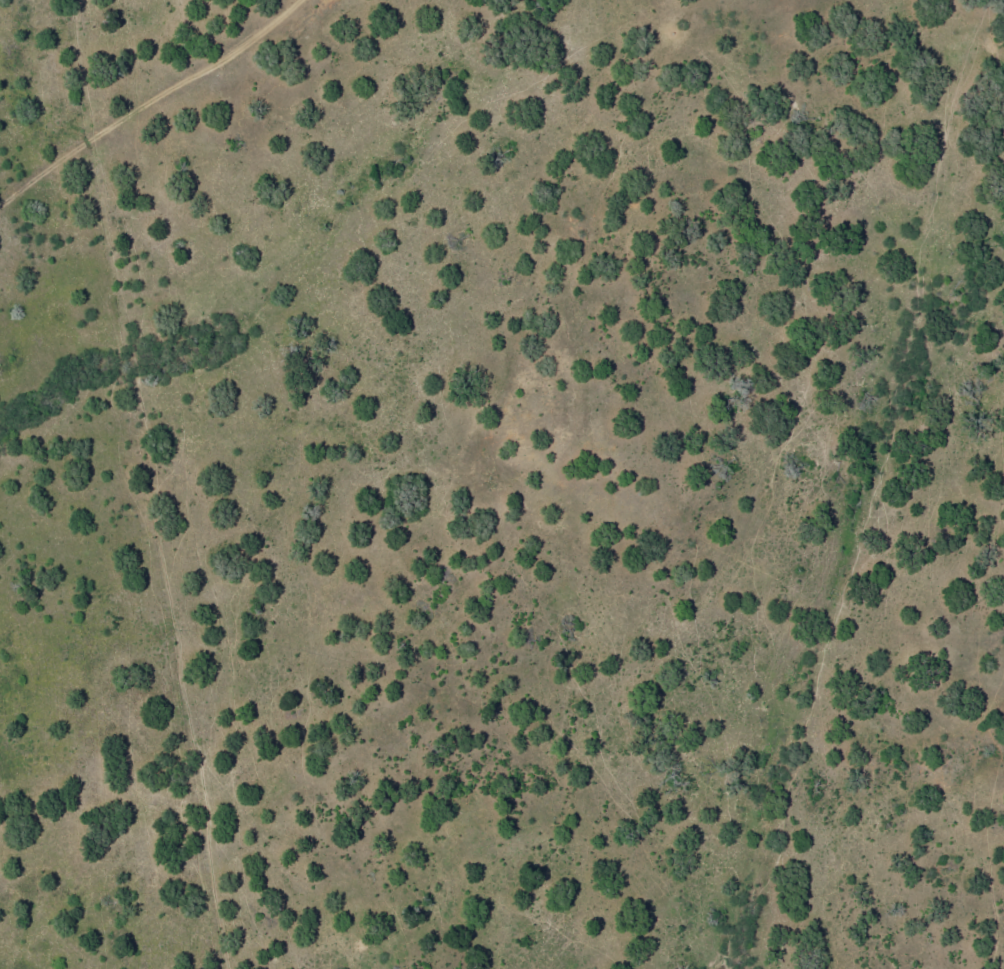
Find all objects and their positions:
road: (141, 86)
road: (581, 183)

